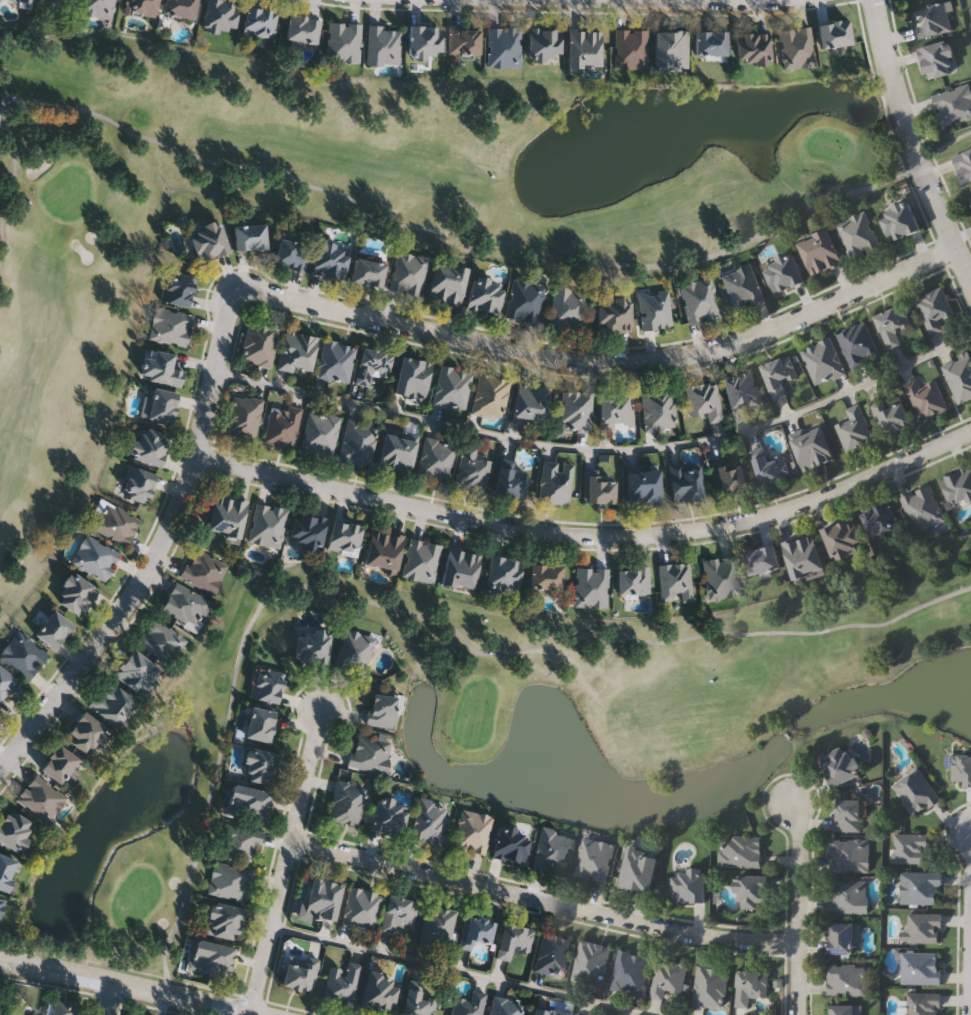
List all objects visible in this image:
building: (22, 0)
road: (726, 0)
building: (67, 1)
building: (141, 6)
building: (97, 7)
building: (179, 7)
building: (220, 14)
building: (931, 18)
building: (259, 19)
building: (302, 27)
building: (834, 32)
building: (463, 39)
building: (425, 40)
building: (342, 41)
building: (711, 41)
building: (544, 42)
building: (382, 44)
building: (504, 45)
building: (584, 46)
building: (753, 46)
building: (797, 46)
building: (630, 48)
building: (671, 48)
building: (938, 58)
building: (954, 104)
road: (910, 145)
building: (964, 164)
building: (969, 200)
park: (355, 206)
building: (899, 221)
building: (856, 233)
building: (250, 235)
building: (208, 239)
building: (820, 251)
building: (291, 253)
building: (330, 258)
building: (368, 271)
building: (784, 271)
building: (408, 272)
building: (447, 282)
building: (742, 285)
building: (178, 287)
building: (485, 293)
building: (698, 298)
building: (524, 299)
building: (567, 307)
building: (934, 307)
building: (654, 309)
building: (614, 313)
building: (892, 323)
building: (170, 325)
building: (259, 343)
building: (858, 344)
building: (298, 350)
building: (335, 360)
building: (823, 361)
road: (604, 362)
building: (372, 364)
building: (161, 366)
building: (779, 374)
building: (412, 377)
building: (959, 377)
building: (451, 387)
building: (742, 390)
building: (489, 395)
building: (926, 397)
building: (702, 399)
building: (530, 403)
building: (159, 404)
building: (616, 409)
building: (657, 409)
building: (574, 410)
building: (892, 413)
building: (244, 415)
building: (282, 425)
building: (853, 427)
building: (320, 433)
building: (357, 442)
building: (150, 445)
road: (599, 448)
building: (813, 448)
building: (397, 452)
building: (435, 458)
building: (772, 466)
building: (471, 469)
building: (729, 473)
building: (685, 480)
building: (555, 481)
building: (512, 482)
building: (139, 483)
building: (643, 486)
building: (958, 486)
building: (600, 489)
building: (922, 508)
building: (227, 515)
building: (881, 520)
building: (114, 522)
building: (267, 524)
building: (308, 529)
road: (588, 534)
building: (344, 537)
building: (843, 538)
building: (383, 550)
road: (158, 552)
building: (803, 556)
building: (95, 557)
building: (421, 560)
building: (762, 560)
building: (461, 568)
building: (204, 570)
building: (504, 573)
building: (546, 577)
building: (720, 577)
building: (633, 580)
building: (674, 581)
building: (591, 586)
building: (76, 594)
building: (185, 605)
building: (54, 628)
building: (161, 640)
building: (313, 645)
building: (354, 651)
building: (23, 654)
building: (137, 671)
building: (9, 683)
building: (266, 684)
building: (112, 703)
building: (382, 709)
building: (0, 720)
building: (260, 723)
park: (519, 725)
building: (87, 733)
building: (370, 753)
building: (59, 763)
building: (261, 765)
building: (843, 765)
building: (961, 769)
building: (915, 791)
building: (41, 798)
building: (248, 801)
building: (346, 801)
building: (389, 815)
building: (847, 815)
building: (429, 820)
building: (14, 828)
building: (472, 831)
building: (238, 842)
building: (511, 843)
building: (910, 848)
building: (551, 849)
building: (740, 851)
building: (849, 855)
building: (595, 859)
road: (286, 863)
building: (638, 869)
building: (6, 870)
building: (229, 880)
building: (690, 886)
building: (919, 887)
building: (754, 891)
building: (848, 896)
building: (321, 900)
road: (543, 901)
building: (1, 904)
building: (360, 907)
building: (397, 913)
road: (796, 913)
road: (967, 919)
building: (224, 921)
building: (436, 925)
building: (922, 927)
building: (475, 931)
building: (843, 937)
building: (513, 940)
building: (552, 953)
building: (212, 958)
building: (591, 962)
building: (920, 967)
road: (461, 970)
building: (630, 971)
building: (300, 972)
building: (668, 977)
building: (848, 980)
building: (342, 982)
building: (751, 986)
road: (125, 987)
building: (711, 987)
building: (379, 990)
road: (107, 999)
building: (418, 1003)
building: (922, 1003)
building: (468, 1004)
building: (505, 1006)
building: (62, 1008)
building: (844, 1009)
building: (545, 1012)
building: (32, 1014)
building: (577, 1014)

